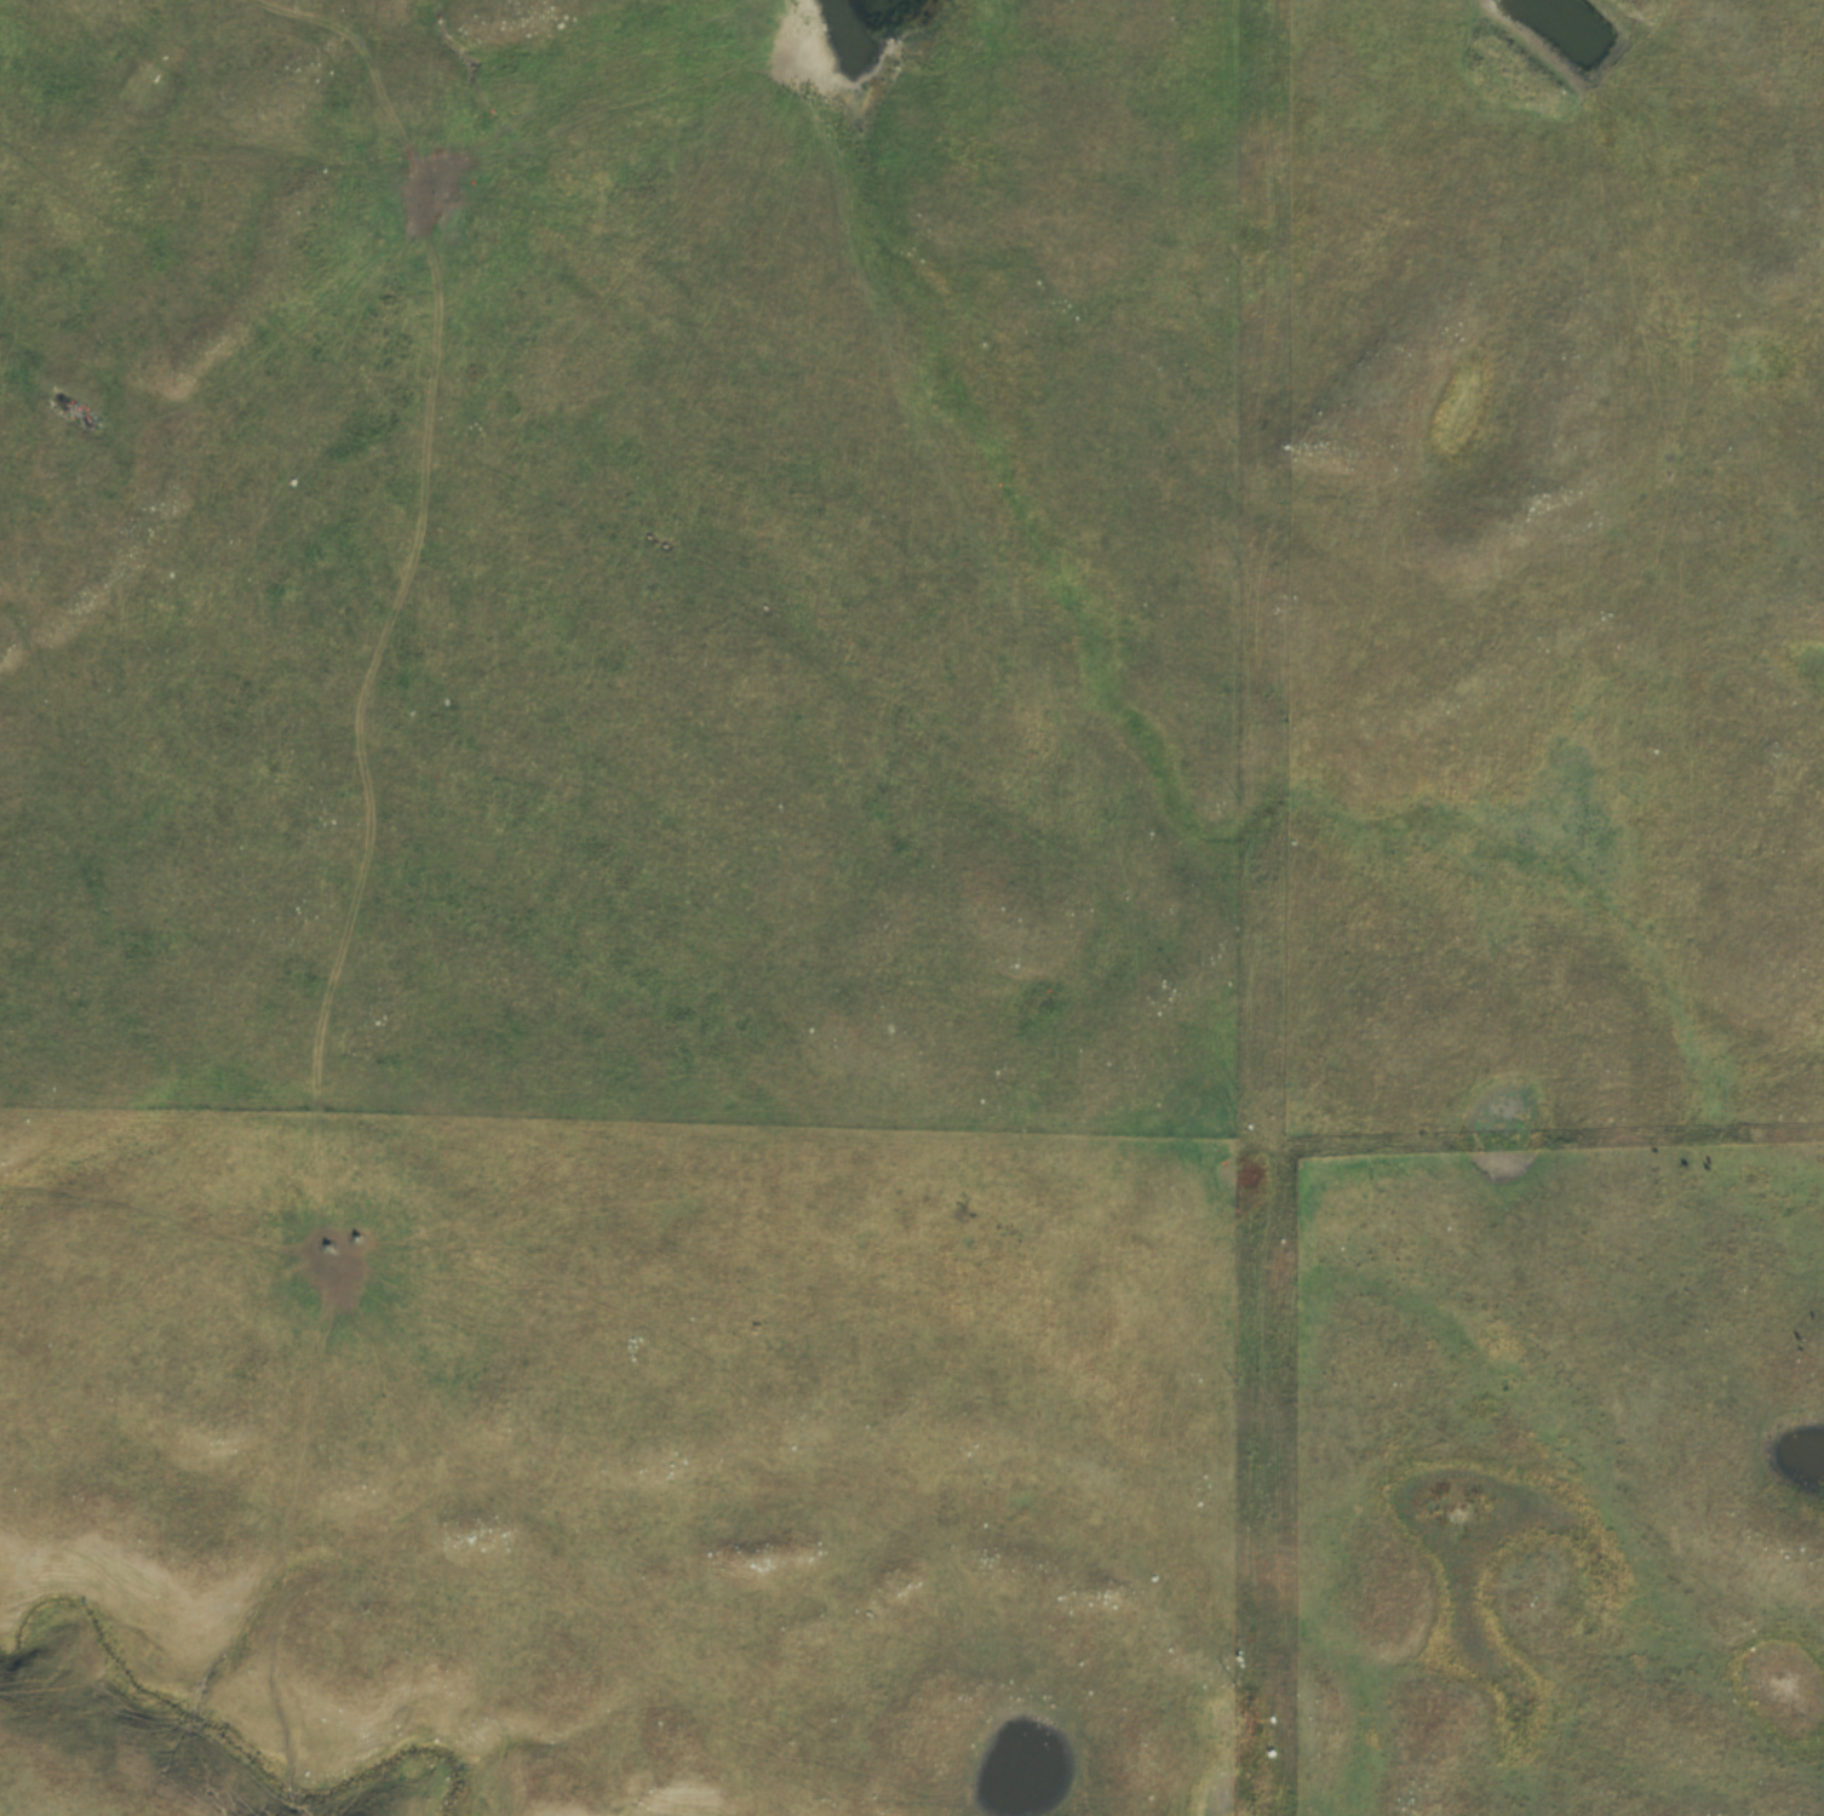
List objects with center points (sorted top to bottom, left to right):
road: (912, 1141)

